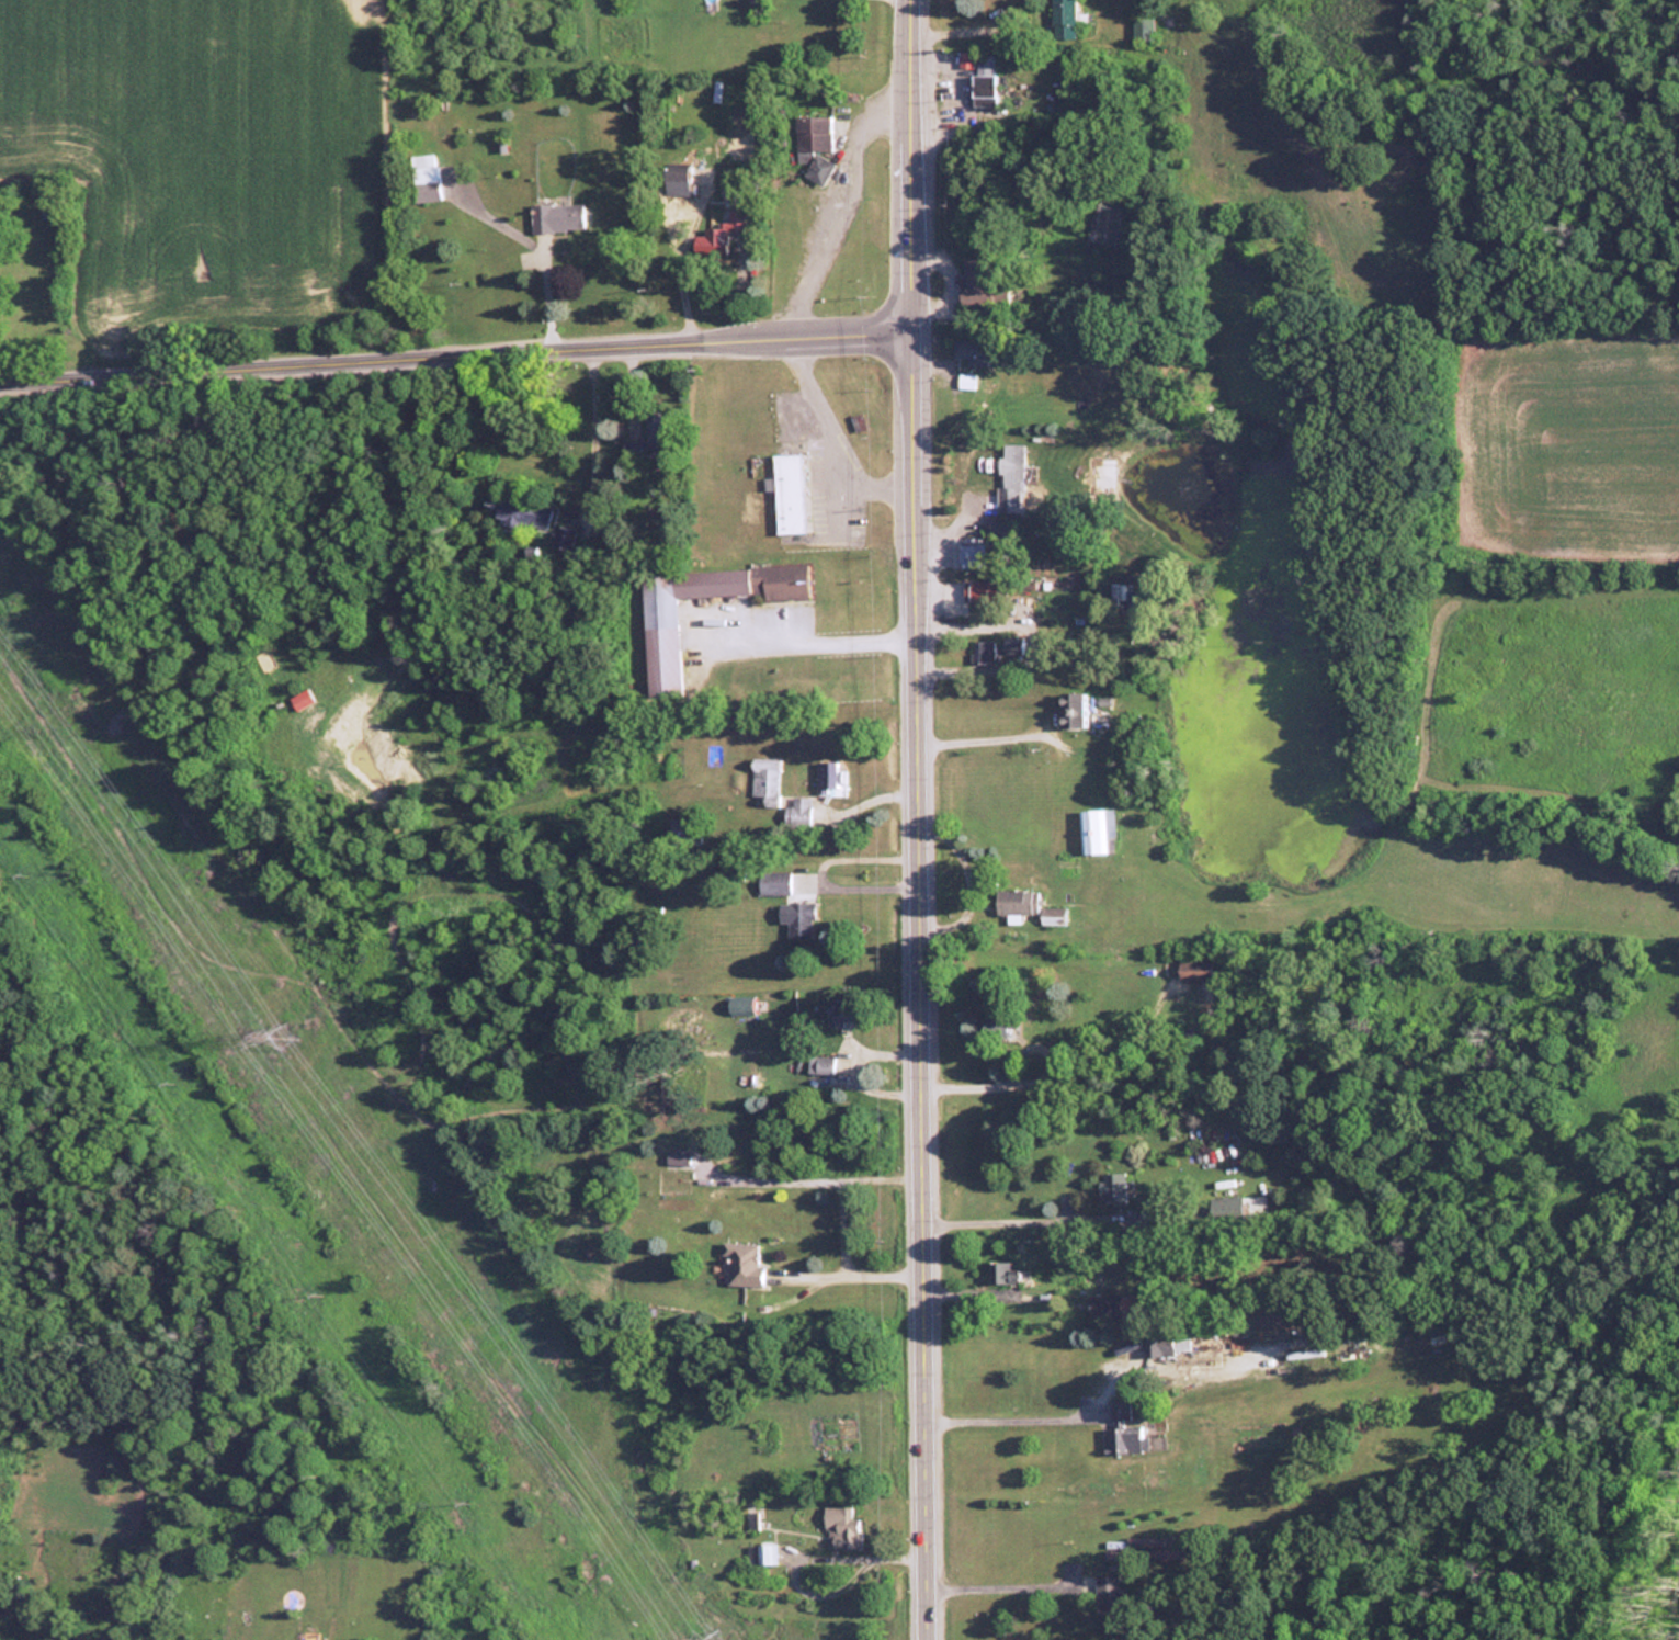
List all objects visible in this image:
building: (1067, 20)
road: (983, 30)
building: (989, 92)
building: (969, 126)
building: (817, 147)
building: (428, 179)
building: (681, 182)
road: (850, 203)
building: (559, 219)
building: (721, 237)
road: (535, 248)
road: (674, 256)
road: (617, 261)
building: (983, 284)
road: (458, 351)
building: (976, 353)
road: (597, 431)
building: (658, 431)
road: (832, 438)
building: (634, 452)
building: (1016, 482)
building: (792, 495)
building: (526, 513)
building: (564, 540)
building: (982, 557)
building: (986, 595)
road: (818, 645)
building: (1014, 647)
building: (667, 651)
building: (985, 654)
building: (375, 664)
building: (1079, 713)
road: (984, 740)
building: (830, 779)
building: (767, 780)
building: (802, 813)
road: (922, 819)
building: (687, 835)
building: (1098, 836)
building: (980, 879)
building: (776, 885)
building: (1020, 905)
building: (1057, 918)
building: (804, 921)
building: (1200, 972)
building: (745, 1009)
building: (851, 1015)
building: (1002, 1027)
power tower: (285, 1039)
building: (823, 1066)
road: (983, 1088)
building: (678, 1158)
building: (1115, 1188)
building: (1239, 1211)
road: (1019, 1222)
road: (840, 1225)
building: (746, 1265)
building: (1009, 1274)
building: (1116, 1307)
building: (1168, 1344)
road: (1013, 1421)
building: (1125, 1430)
building: (844, 1531)
building: (763, 1557)
road: (807, 1559)
road: (1005, 1590)
building: (1111, 1606)

